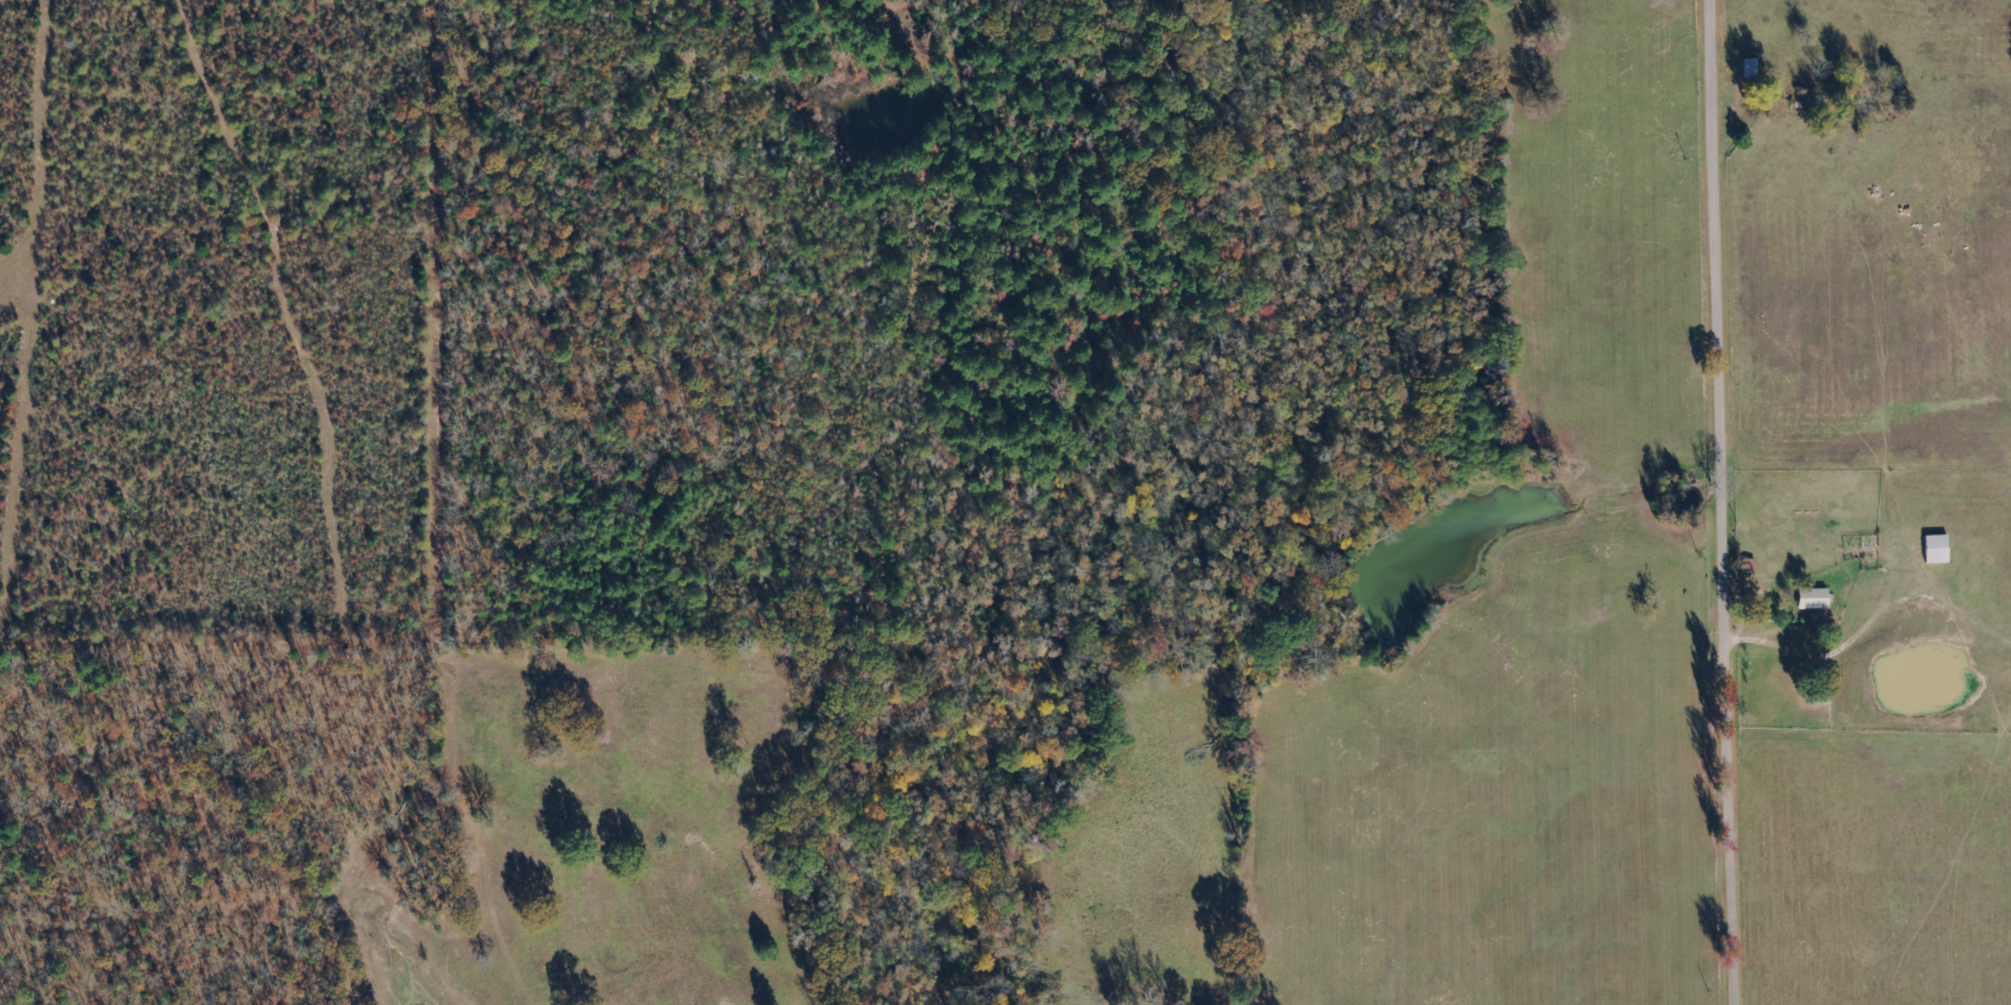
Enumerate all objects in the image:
building: (1749, 69)
road: (1730, 502)
building: (1935, 550)
building: (1811, 600)

